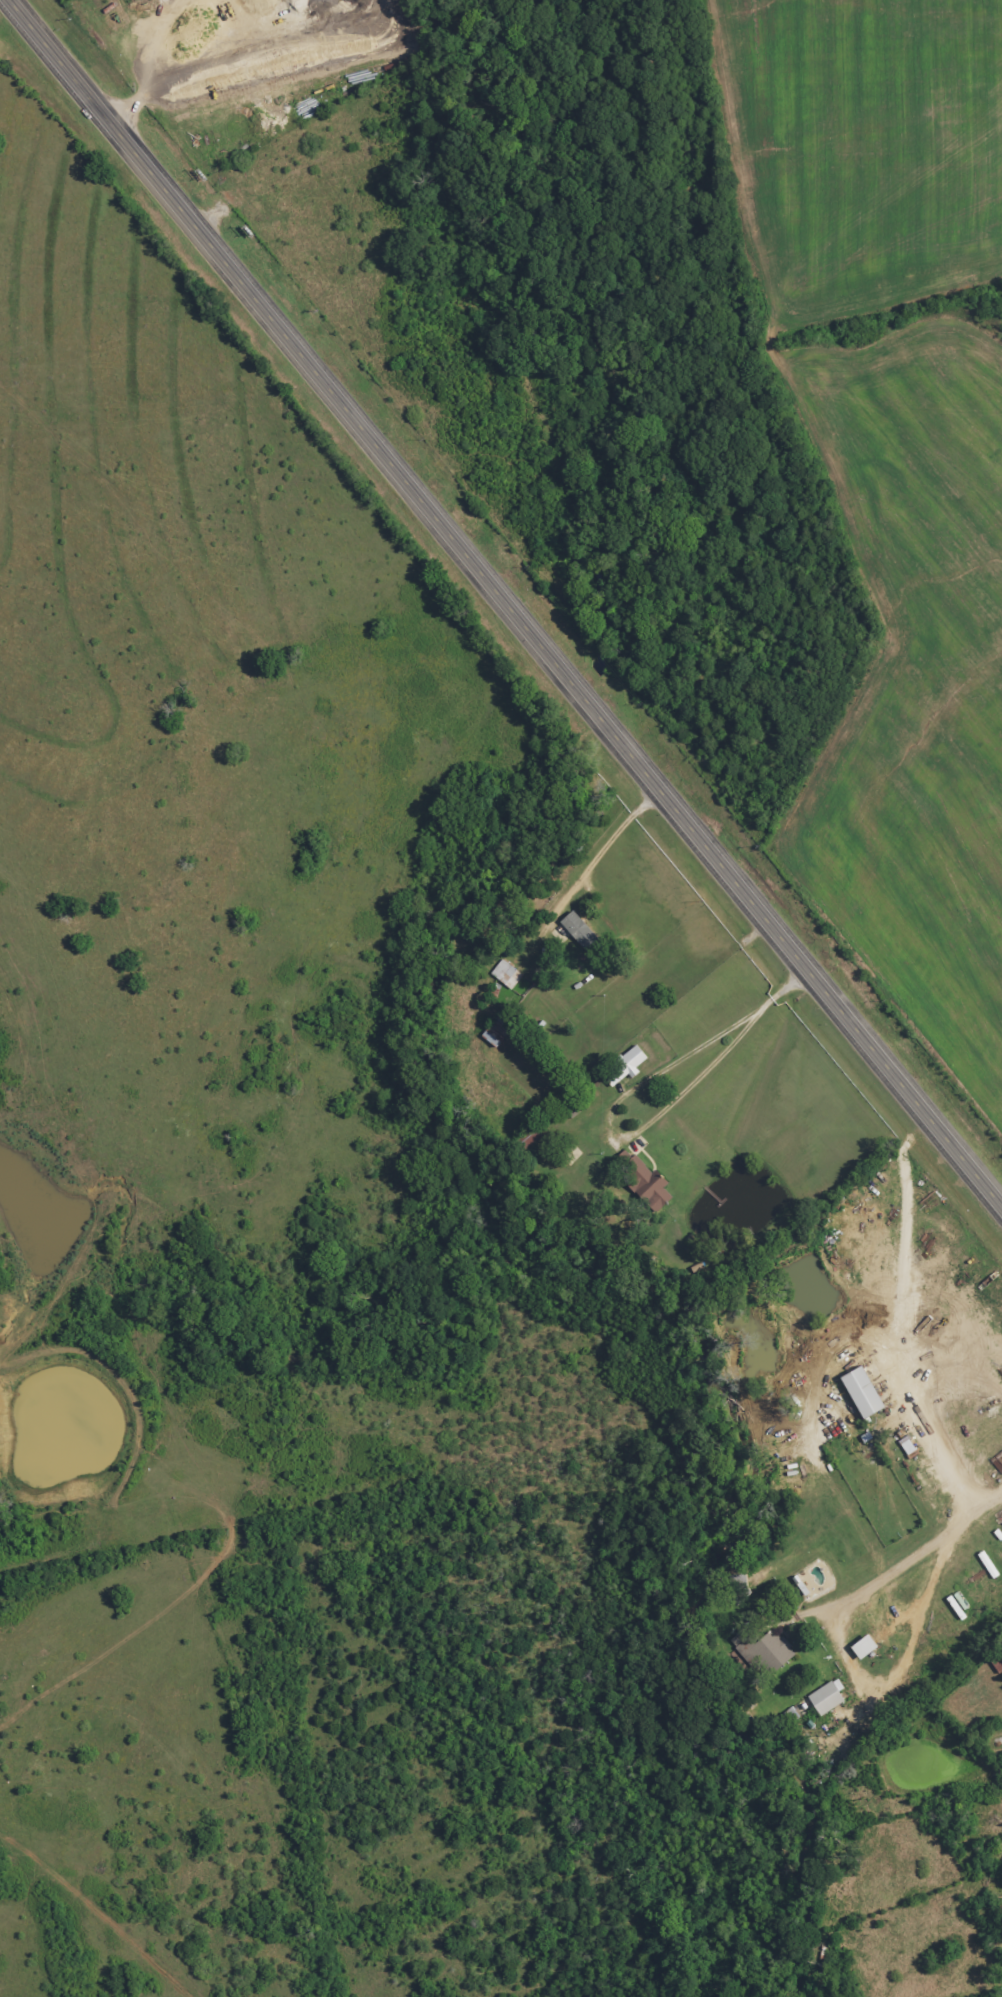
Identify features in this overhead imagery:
road: (505, 603)
building: (581, 931)
building: (507, 974)
building: (499, 1030)
building: (625, 1066)
building: (649, 1182)
building: (864, 1392)
road: (918, 1553)
building: (866, 1647)
building: (765, 1648)
building: (829, 1697)

